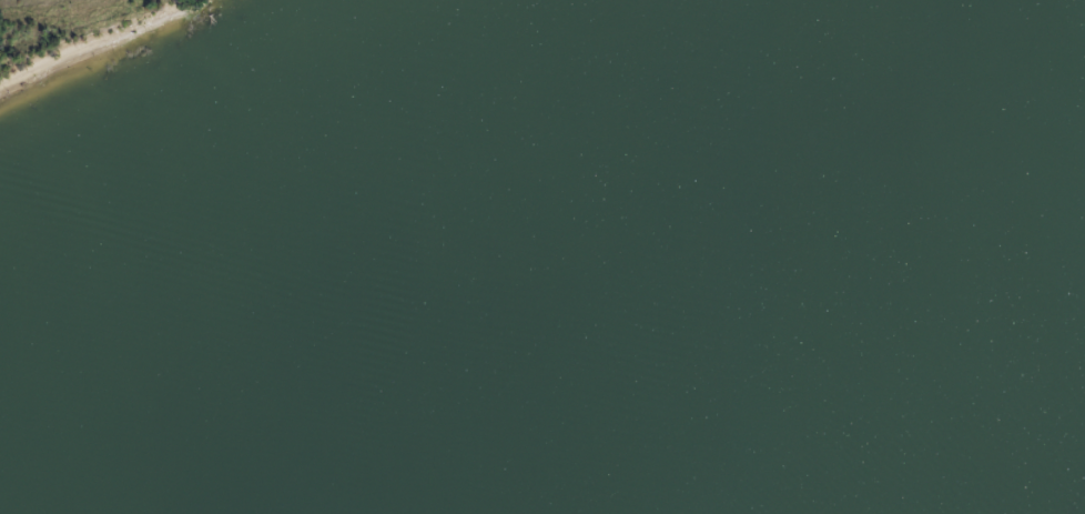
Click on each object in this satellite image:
park: (196, 128)

